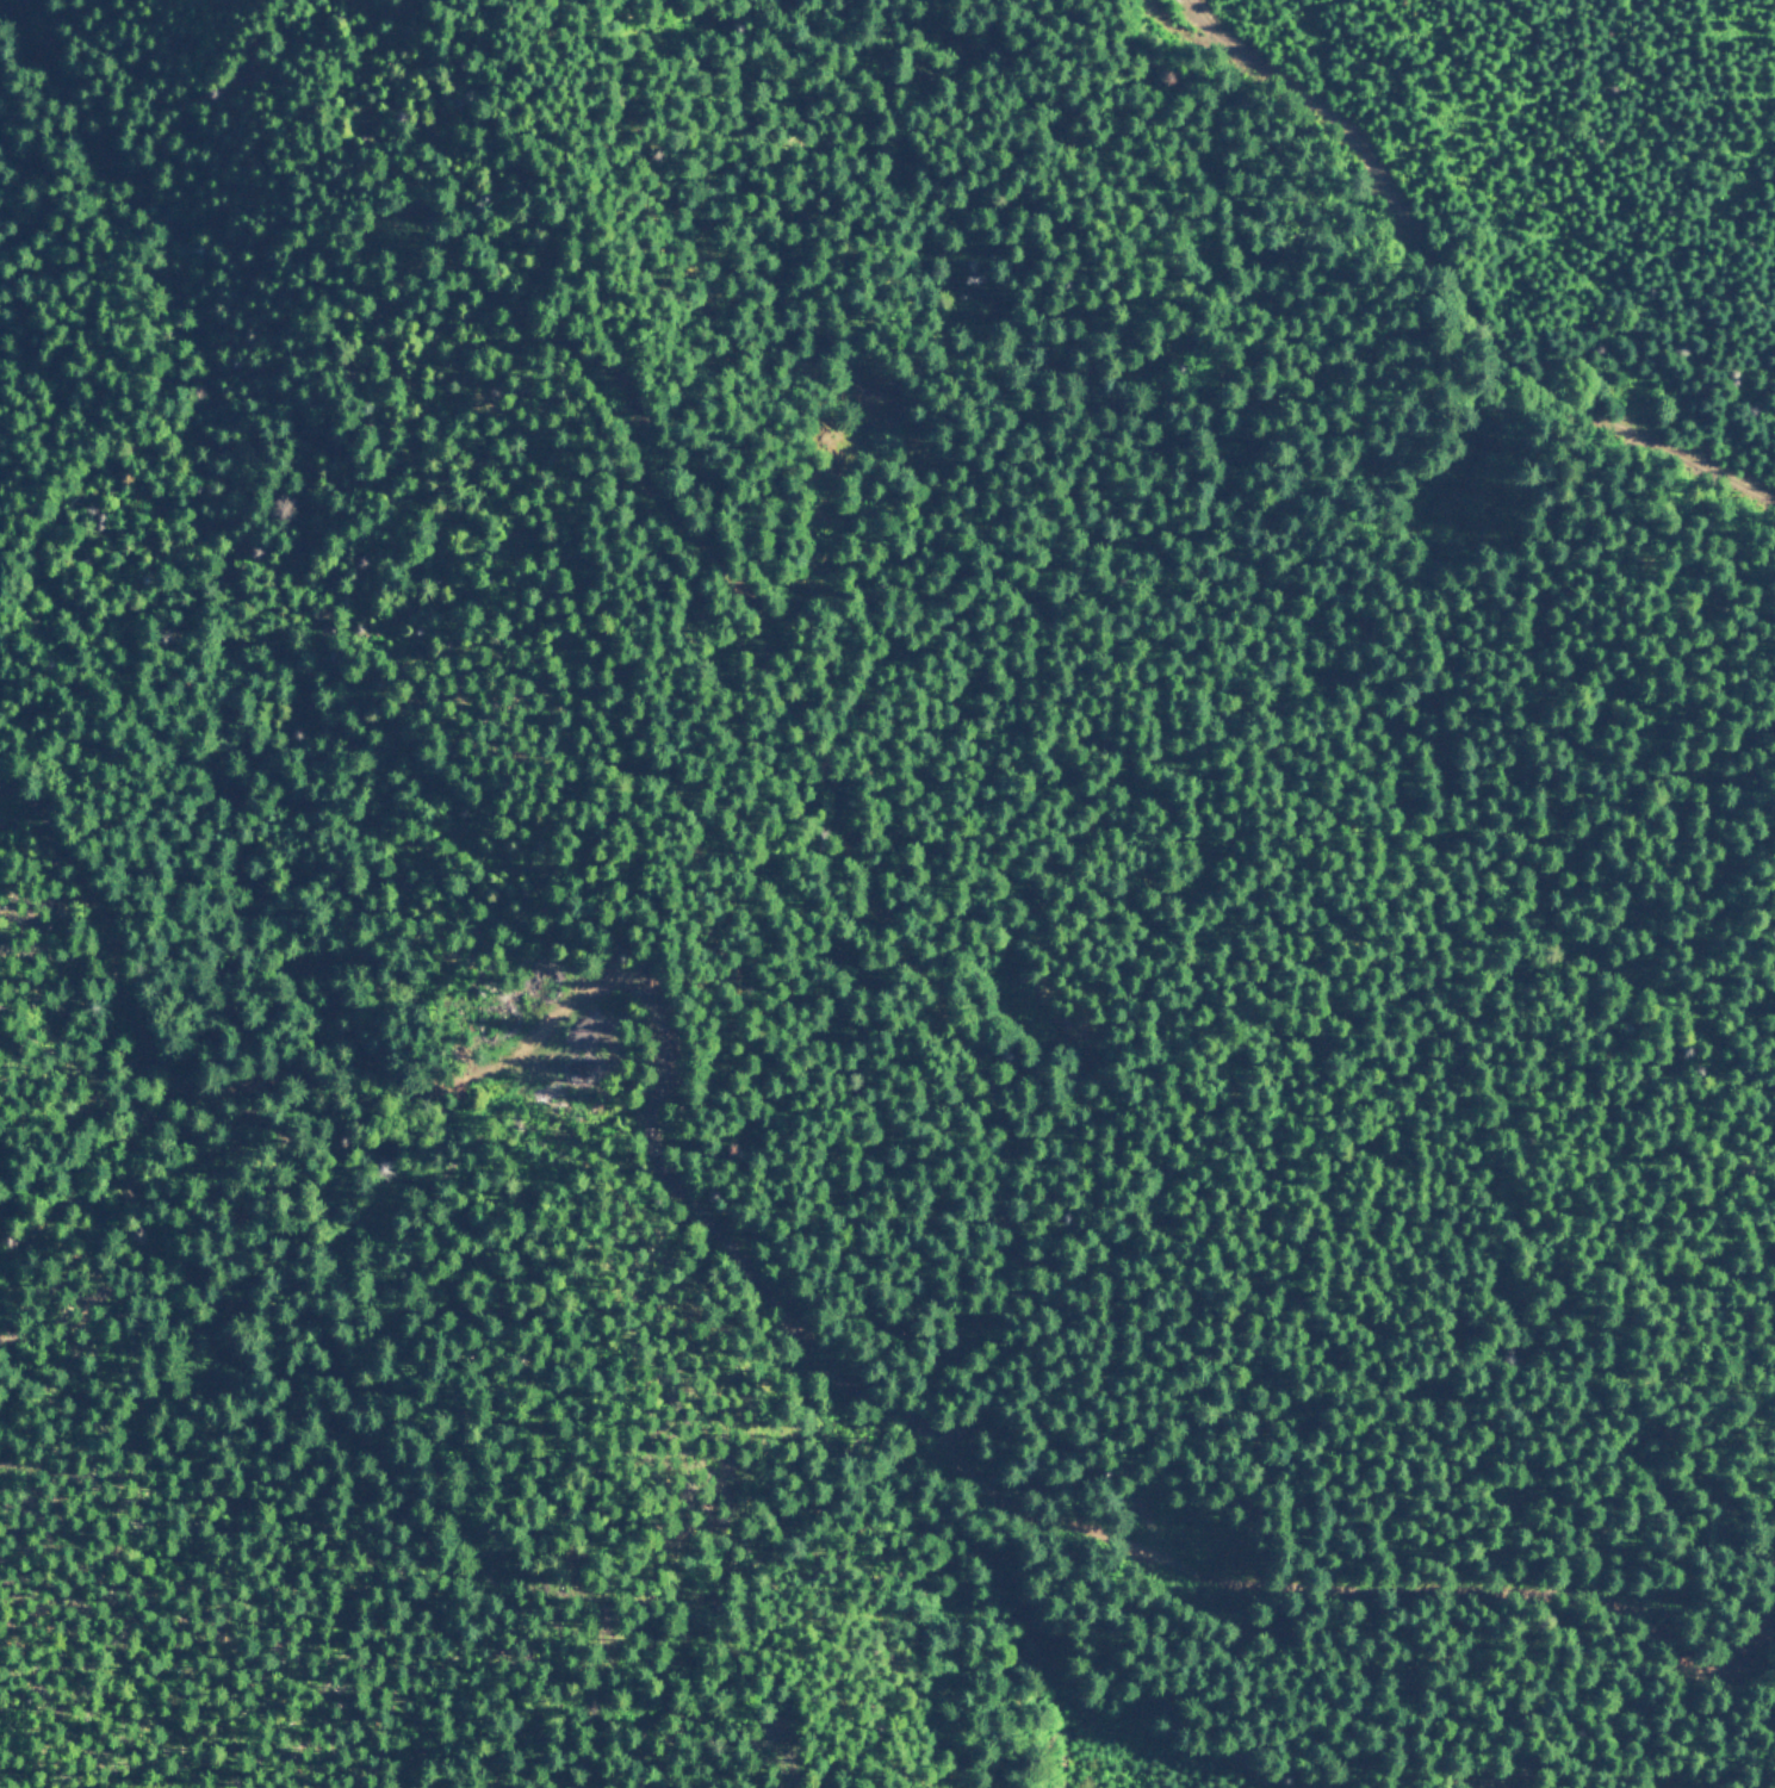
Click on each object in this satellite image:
road: (771, 1281)

